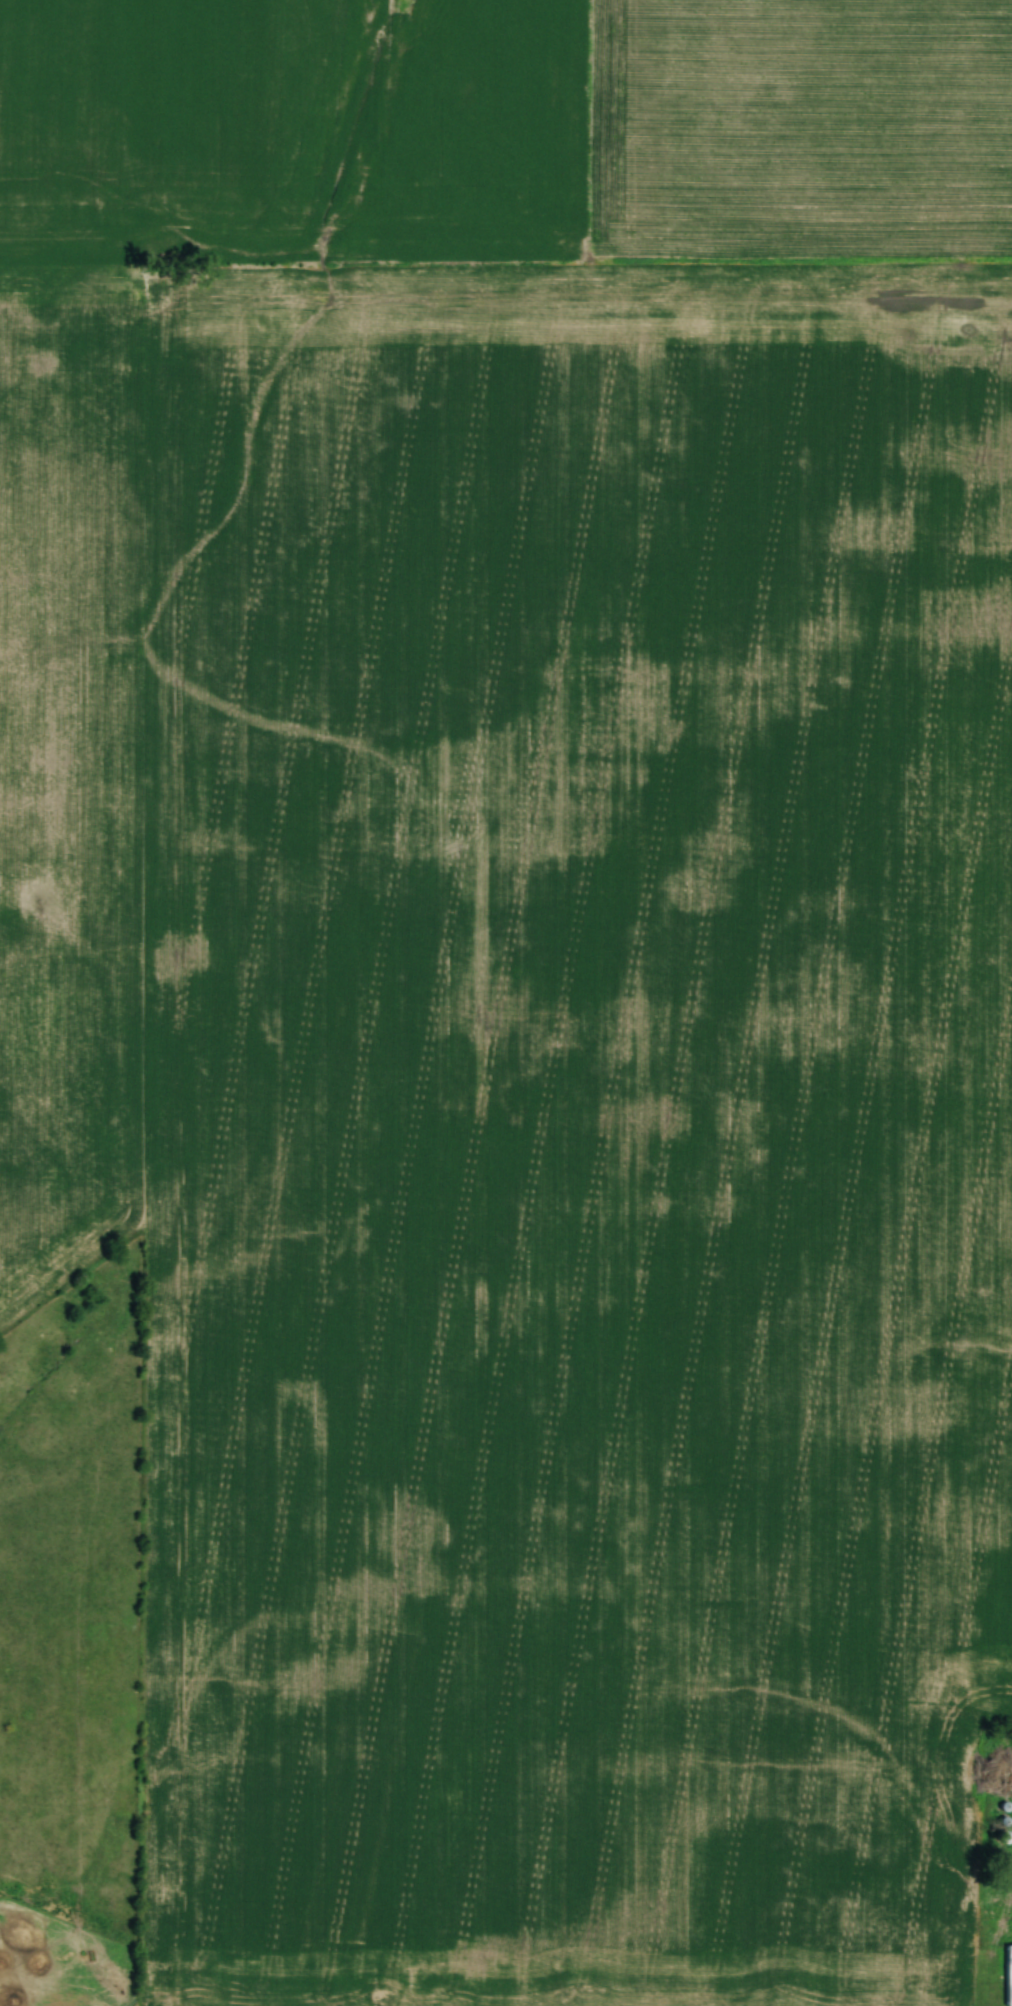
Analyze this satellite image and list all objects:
building: (1009, 1975)

